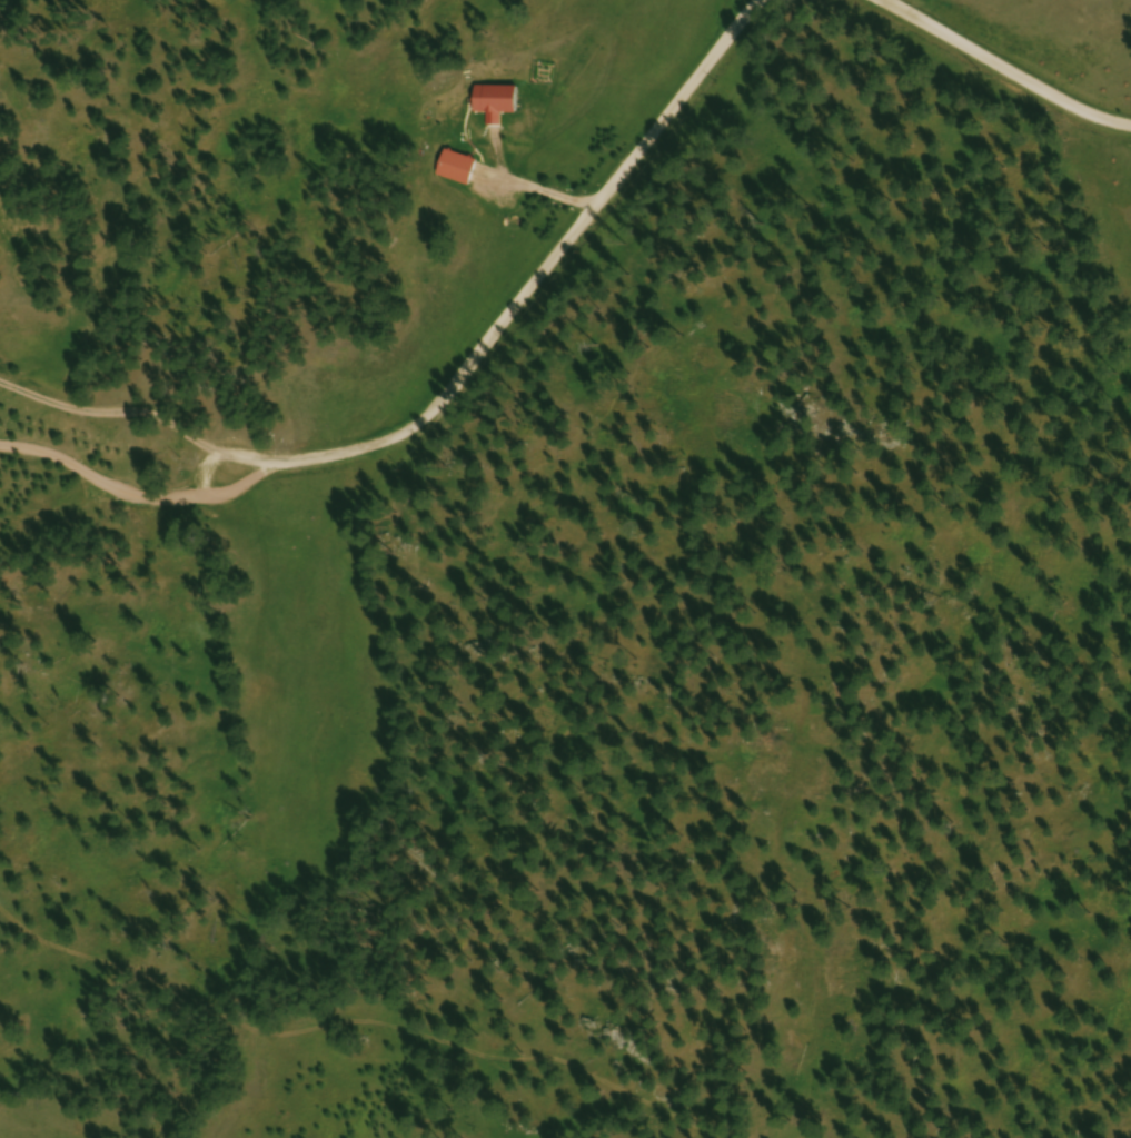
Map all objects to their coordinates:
road: (1014, 61)
building: (498, 102)
building: (459, 170)
road: (525, 279)
road: (196, 471)

